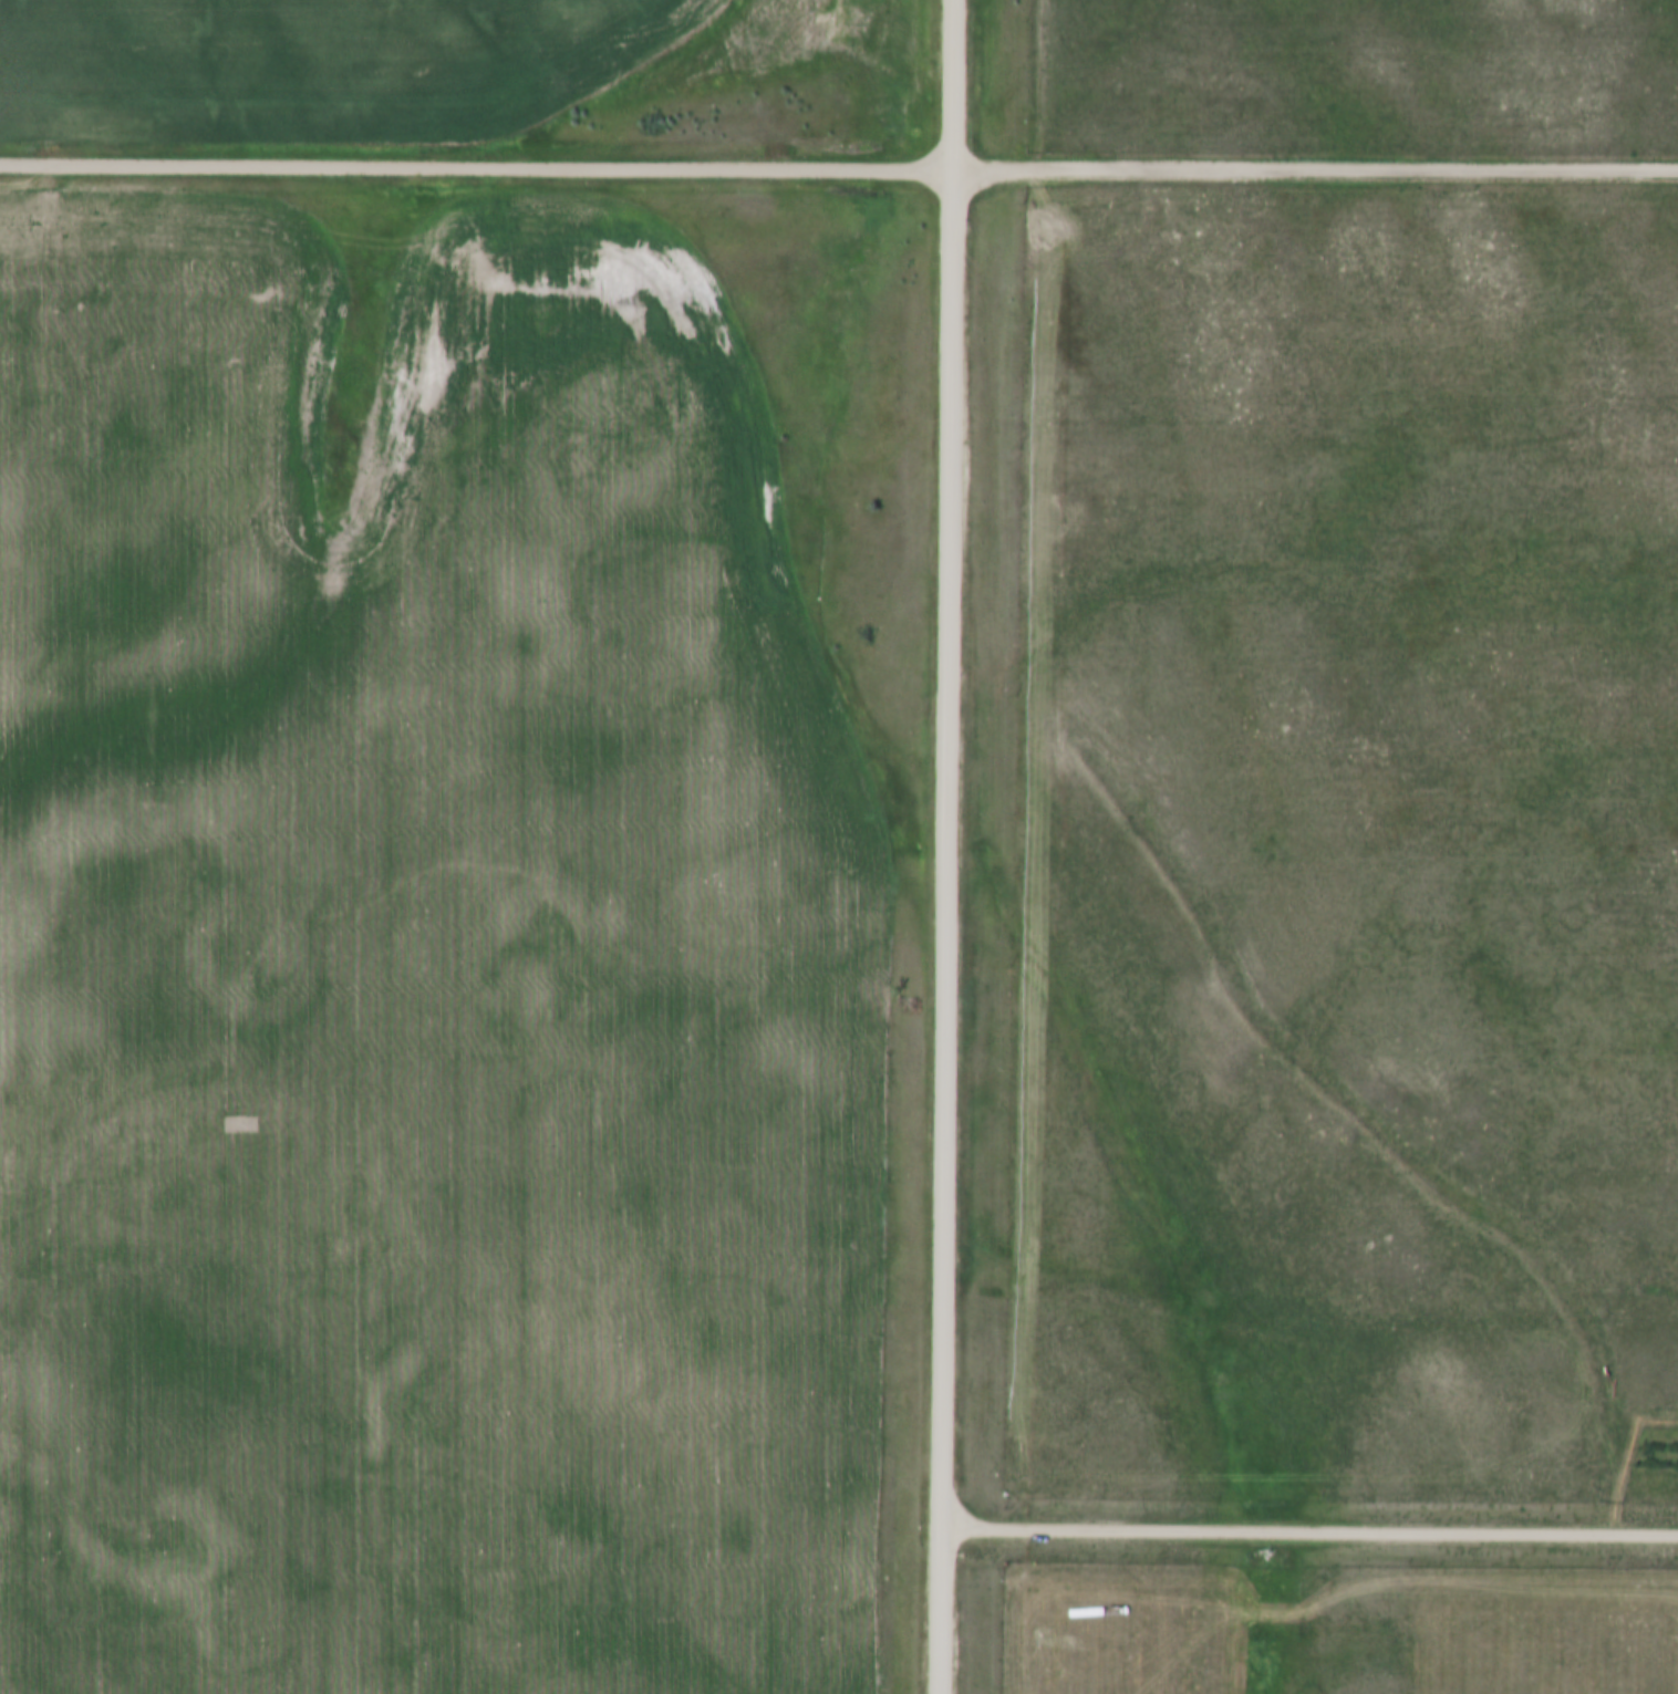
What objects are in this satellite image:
road: (478, 167)
road: (1316, 169)
road: (950, 846)
road: (1309, 1531)

